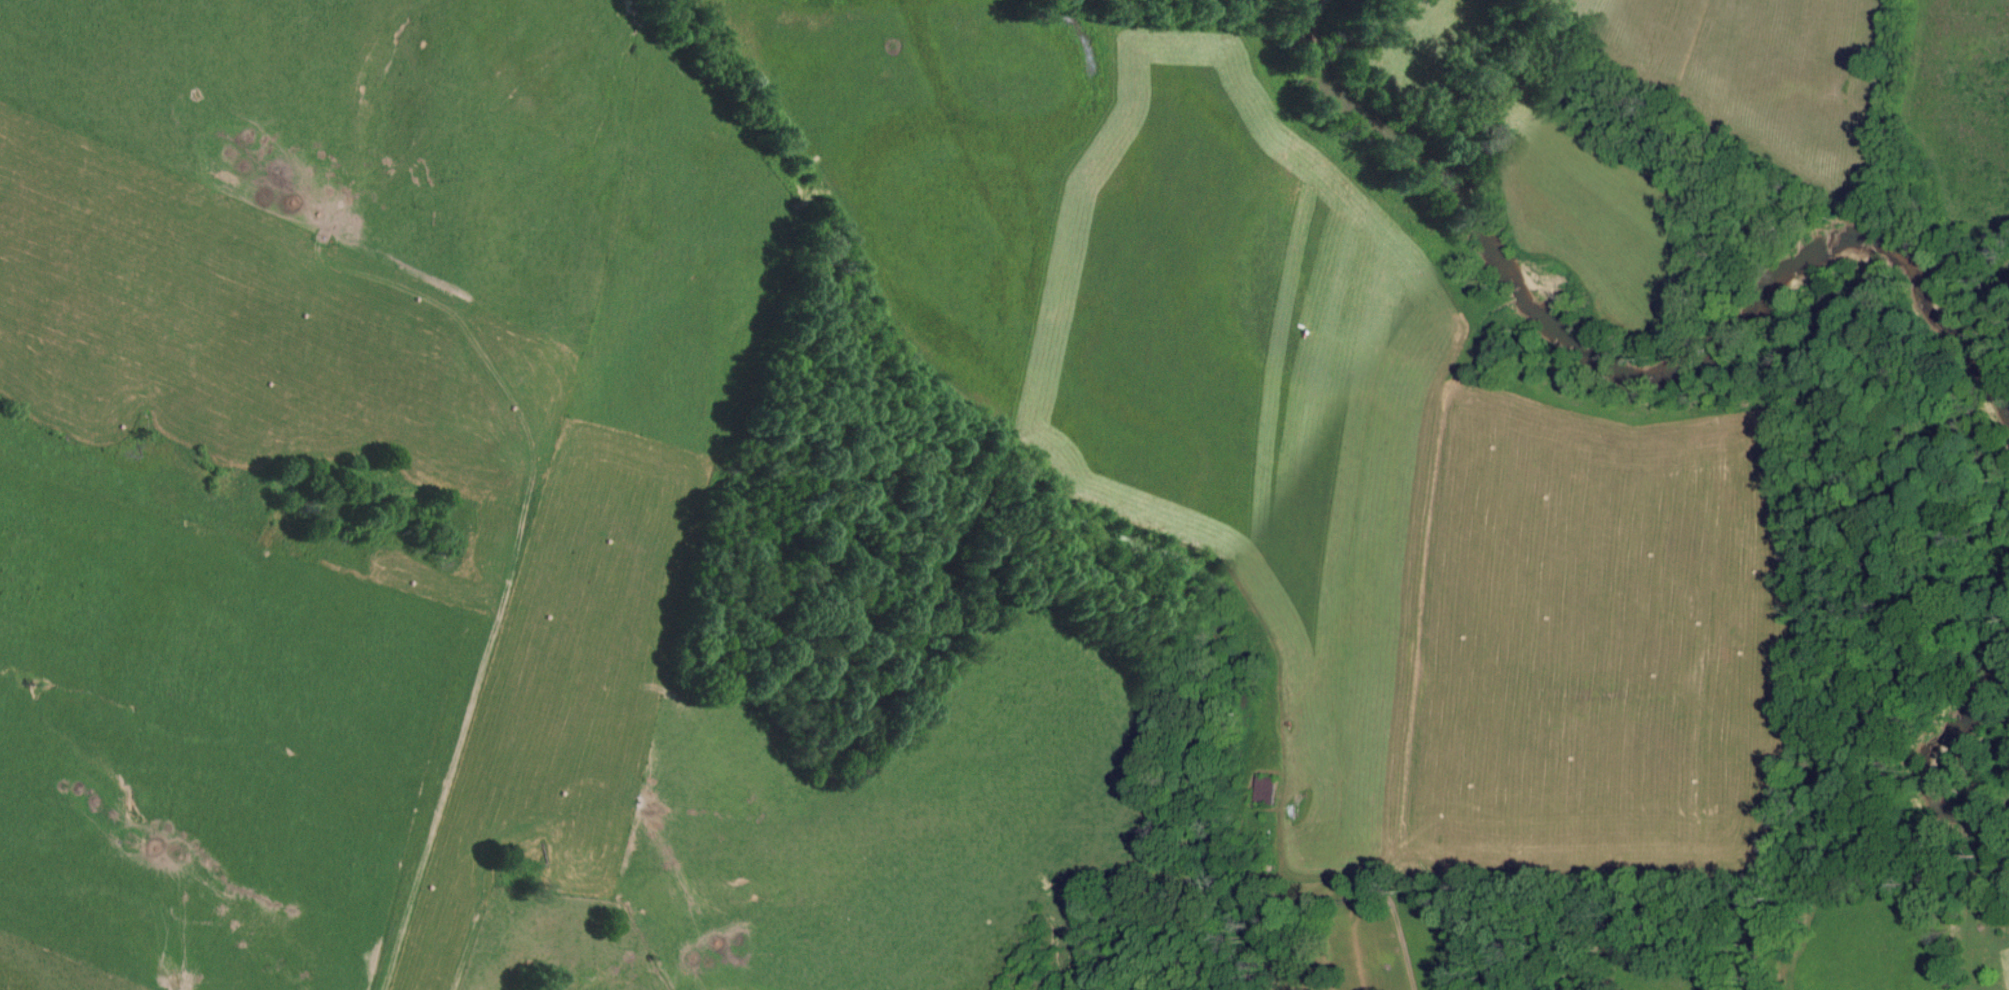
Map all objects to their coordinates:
river: (1616, 366)
river: (1969, 744)

